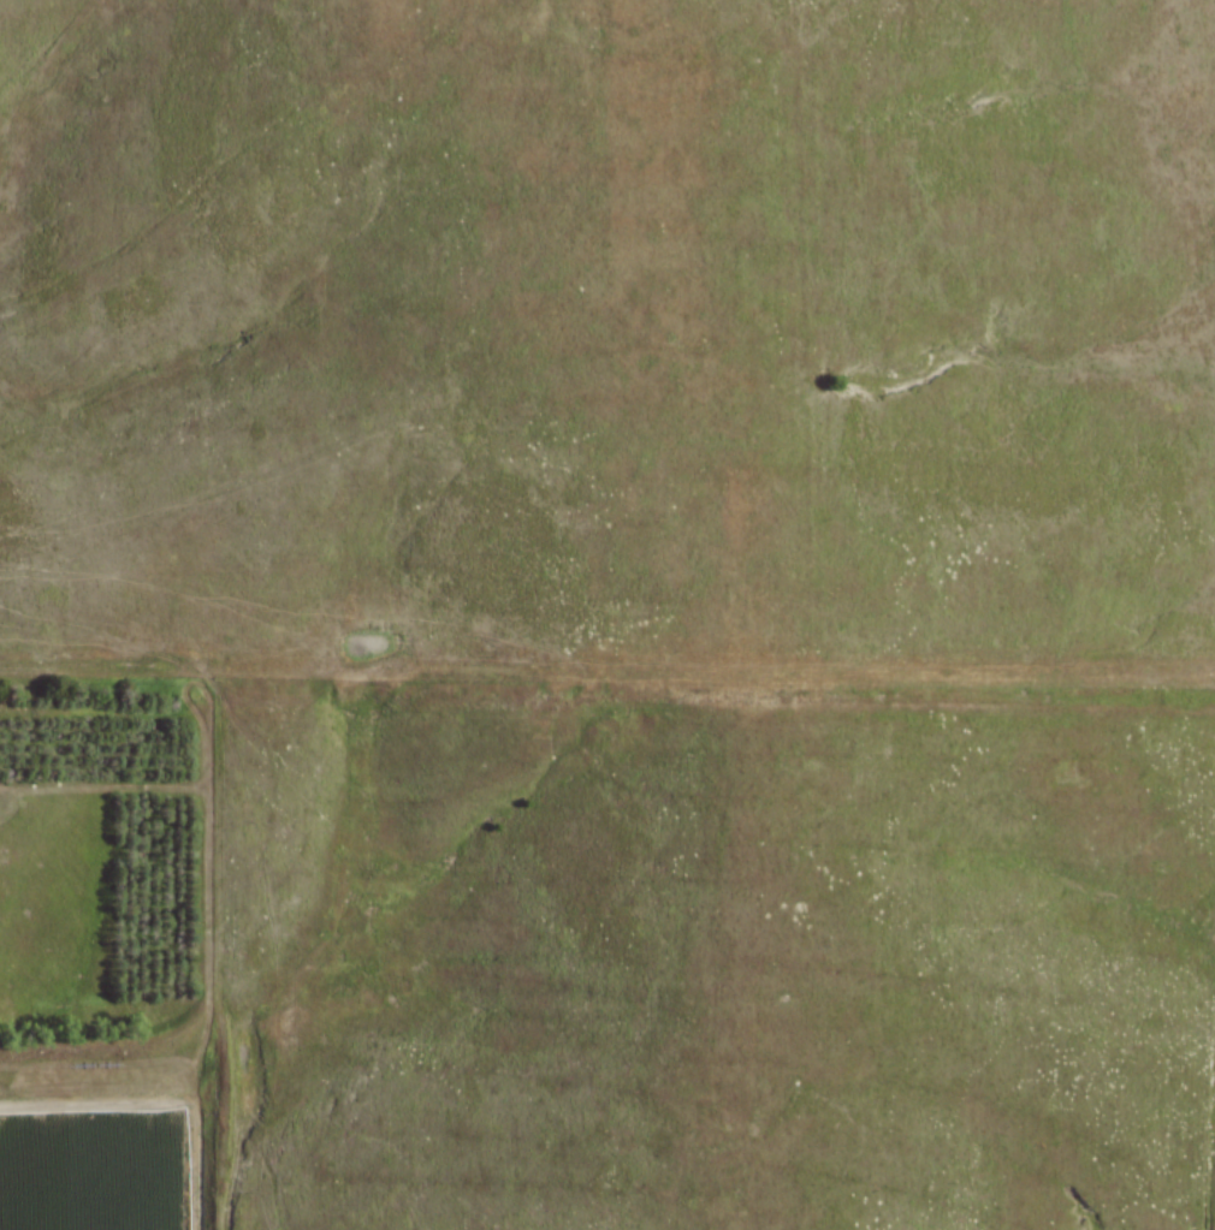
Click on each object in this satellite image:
crop: (95, 1172)

